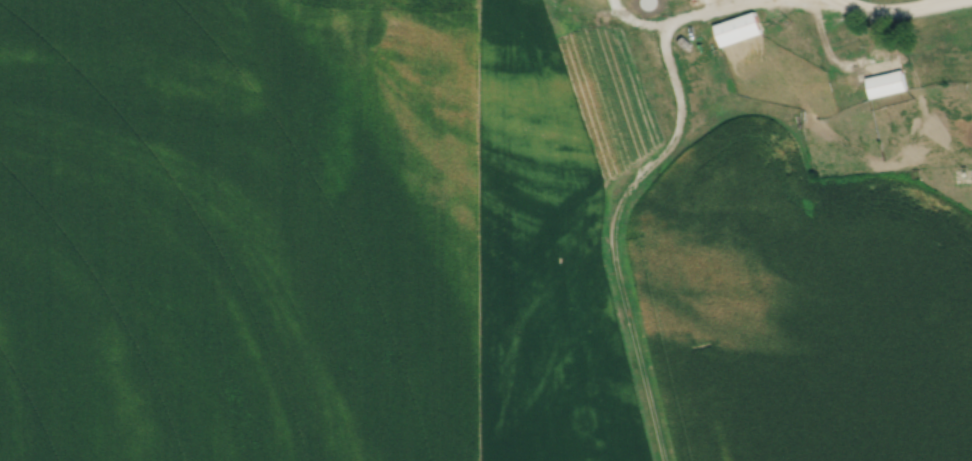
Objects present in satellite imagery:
road: (718, 8)
road: (893, 10)
building: (737, 28)
building: (886, 83)

